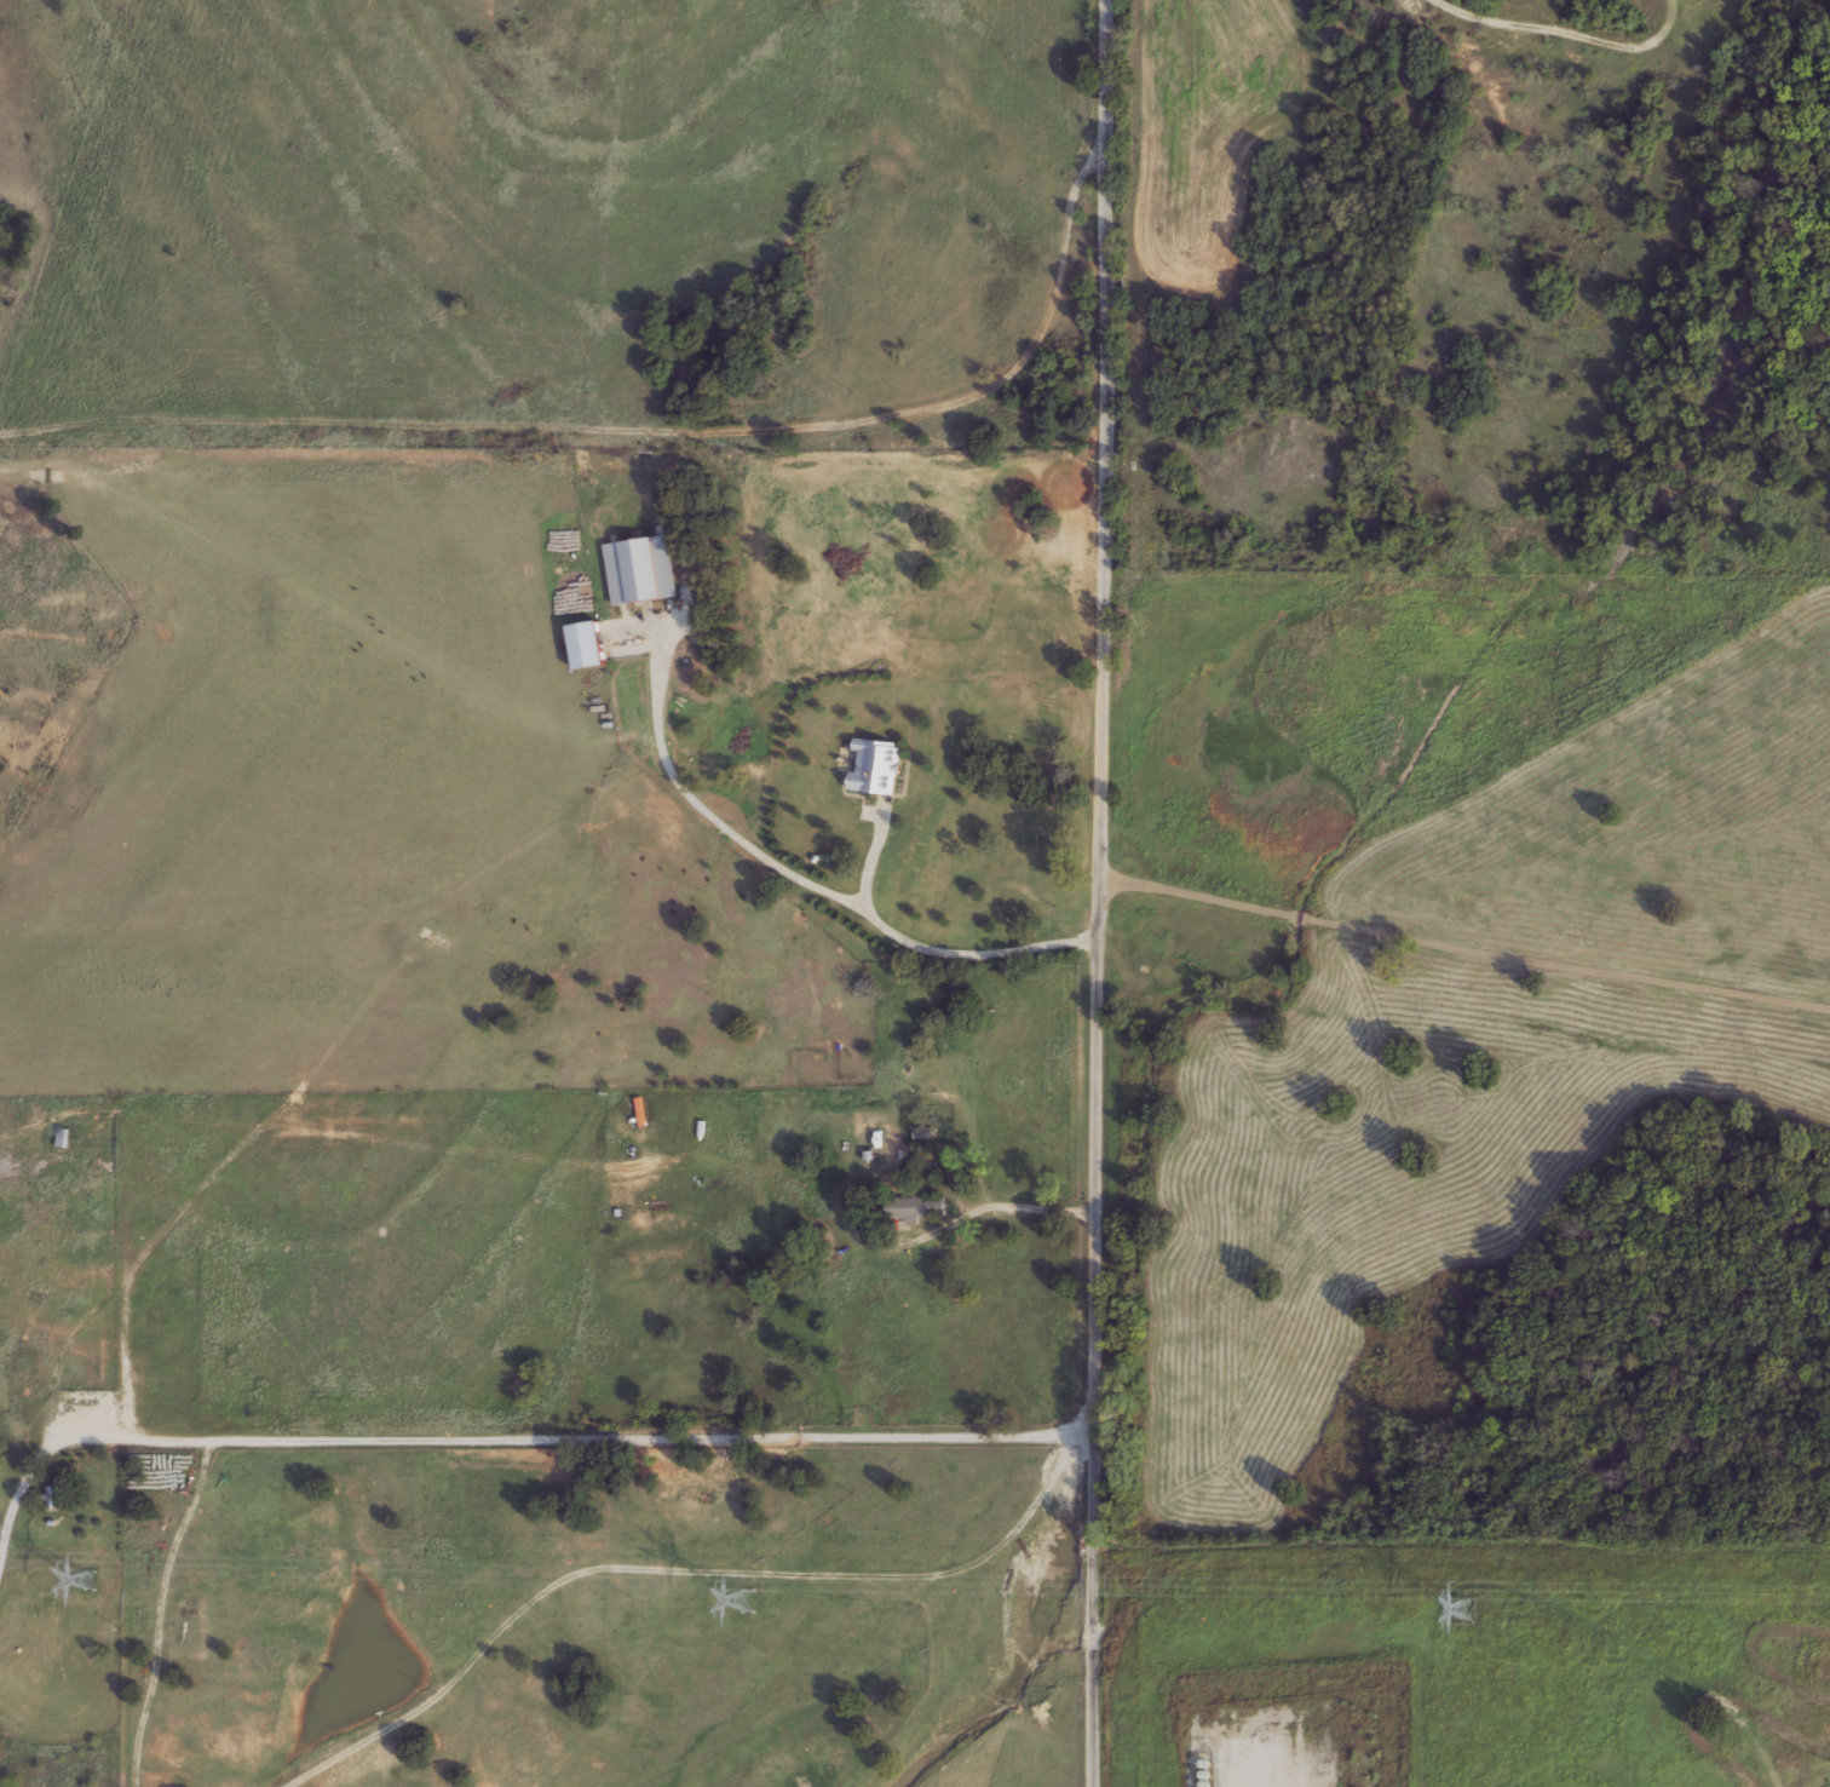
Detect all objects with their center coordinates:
road: (549, 454)
building: (640, 568)
building: (1026, 832)
road: (1095, 893)
road: (1462, 943)
road: (971, 950)
building: (951, 1067)
building: (915, 1206)
road: (514, 1442)
building: (54, 1496)
power tower: (91, 1578)
power tower: (748, 1598)
power tower: (1467, 1607)

